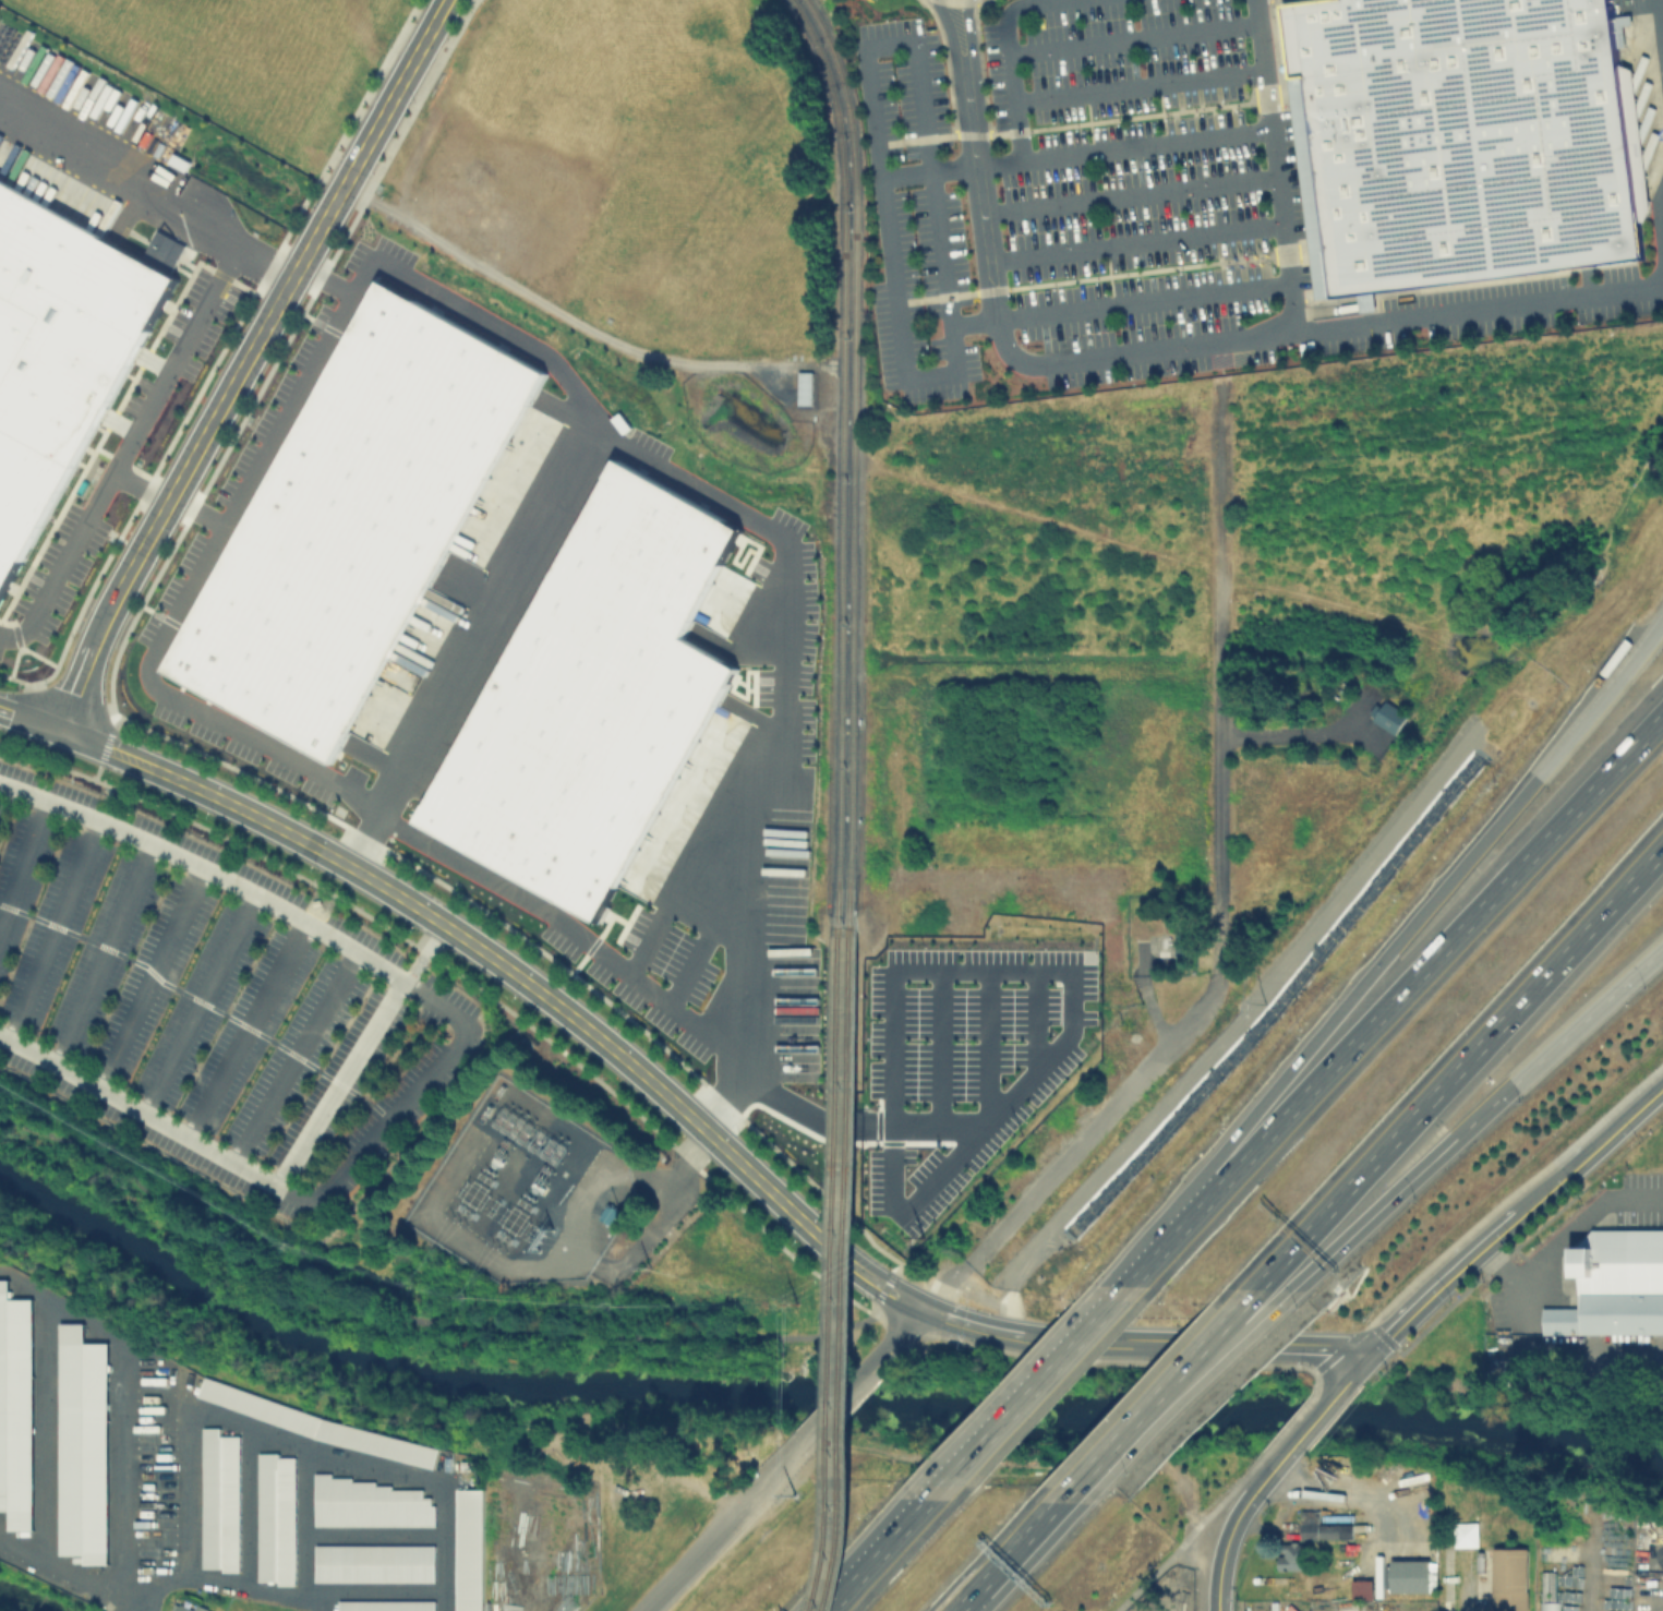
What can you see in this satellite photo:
road: (953, 0)
road: (980, 0)
road: (981, 0)
road: (1130, 38)
flagpole: (1246, 38)
flagpole: (1248, 48)
road: (1658, 51)
flagpole: (1249, 58)
road: (945, 64)
road: (980, 65)
road: (864, 69)
road: (1136, 86)
road: (364, 93)
road: (415, 105)
road: (1071, 123)
building: (1460, 140)
road: (1044, 157)
road: (996, 163)
parking lot: (1065, 182)
road: (1126, 195)
parking lot: (1294, 197)
road: (1132, 242)
flagpole: (1270, 251)
flagpole: (1260, 252)
flagpole: (1250, 253)
flagpole: (1240, 255)
flagpole: (1265, 259)
flagpole: (1255, 261)
flagpole: (1245, 262)
flagpole: (1236, 263)
road: (264, 266)
road: (1087, 277)
road: (1140, 301)
road: (993, 320)
road: (971, 322)
road: (1312, 327)
road: (192, 334)
building: (59, 356)
road: (243, 361)
road: (927, 377)
building: (804, 387)
road: (282, 418)
railway: (840, 457)
railway: (849, 458)
road: (140, 489)
building: (354, 520)
road: (780, 616)
road: (448, 676)
building: (593, 698)
building: (1386, 714)
road: (29, 720)
road: (107, 749)
road: (1529, 784)
road: (358, 842)
road: (24, 865)
road: (1218, 875)
building: (320, 903)
road: (724, 918)
road: (652, 921)
road: (555, 928)
road: (53, 931)
building: (1181, 942)
road: (1443, 952)
road: (104, 955)
road: (683, 964)
road: (511, 970)
road: (149, 978)
road: (1073, 1000)
parking lot: (213, 1002)
road: (200, 1005)
road: (1039, 1014)
road: (896, 1021)
road: (733, 1023)
road: (246, 1032)
road: (993, 1038)
road: (1557, 1041)
road: (944, 1045)
road: (453, 1054)
road: (293, 1058)
road: (1458, 1059)
road: (1309, 1066)
road: (339, 1085)
road: (809, 1114)
road: (938, 1121)
building: (868, 1125)
road: (1615, 1132)
road: (1424, 1164)
power substation: (523, 1190)
road: (1515, 1193)
road: (1544, 1195)
road: (914, 1207)
building: (608, 1216)
road: (1565, 1233)
road: (1180, 1235)
road: (1346, 1236)
parking lot: (1555, 1239)
railway: (834, 1269)
railway: (845, 1269)
road: (876, 1269)
building: (1614, 1277)
road: (866, 1284)
road: (942, 1284)
road: (1443, 1285)
road: (881, 1296)
road: (1239, 1297)
road: (1261, 1297)
road: (413, 1320)
road: (891, 1322)
road: (971, 1325)
road: (904, 1337)
road: (1128, 1343)
road: (1304, 1348)
road: (1340, 1348)
road: (1109, 1361)
road: (1354, 1375)
road: (1316, 1381)
road: (1032, 1394)
road: (1136, 1406)
building: (15, 1407)
road: (1292, 1421)
road: (1314, 1422)
building: (317, 1423)
road: (817, 1428)
building: (83, 1443)
building: (469, 1468)
road: (1256, 1491)
building: (219, 1498)
road: (128, 1501)
building: (374, 1504)
building: (280, 1518)
building: (1324, 1528)
road: (1192, 1532)
road: (1012, 1538)
building: (475, 1552)
road: (701, 1552)
road: (879, 1558)
building: (1296, 1558)
building: (383, 1565)
building: (1511, 1570)
road: (1221, 1573)
building: (1410, 1577)
road: (1448, 1580)
building: (1364, 1590)
building: (1551, 1592)
road: (961, 1595)
building: (185, 1607)
building: (385, 1607)

